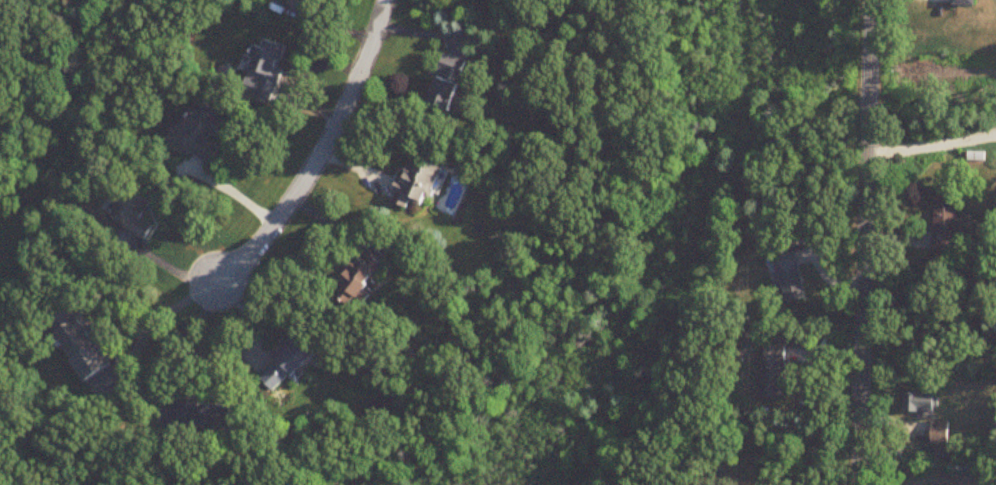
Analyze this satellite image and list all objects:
building: (310, 0)
building: (495, 1)
building: (966, 3)
building: (268, 66)
building: (449, 82)
building: (200, 134)
road: (932, 143)
road: (322, 154)
building: (977, 157)
building: (420, 183)
building: (135, 215)
building: (946, 225)
road: (867, 242)
road: (170, 267)
building: (360, 279)
building: (791, 279)
road: (167, 314)
road: (173, 344)
building: (88, 352)
building: (290, 364)
building: (775, 373)
building: (919, 403)
building: (208, 415)
building: (940, 434)

